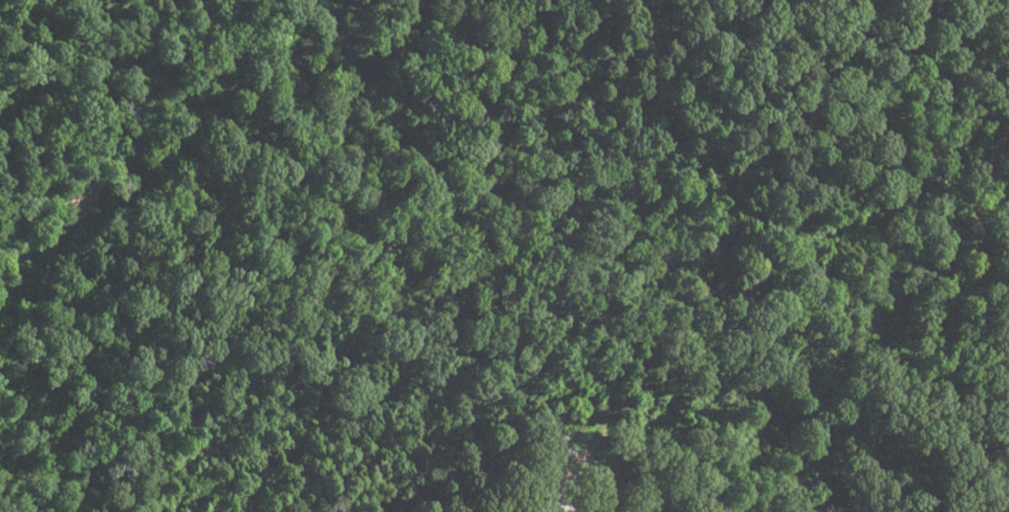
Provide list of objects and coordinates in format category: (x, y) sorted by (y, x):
road: (880, 448)

